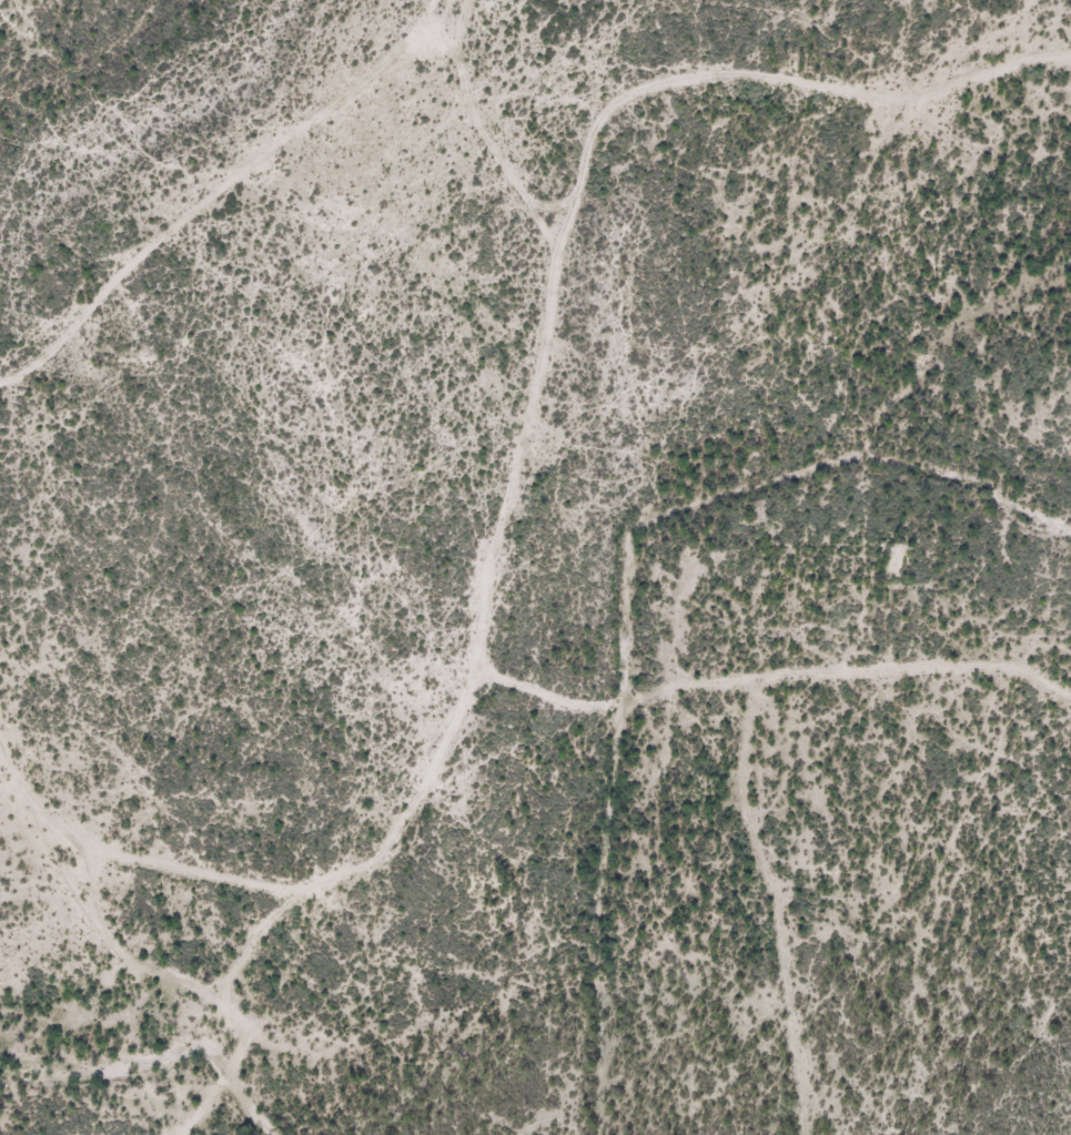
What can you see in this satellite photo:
road: (482, 129)
road: (525, 462)
road: (19, 820)

